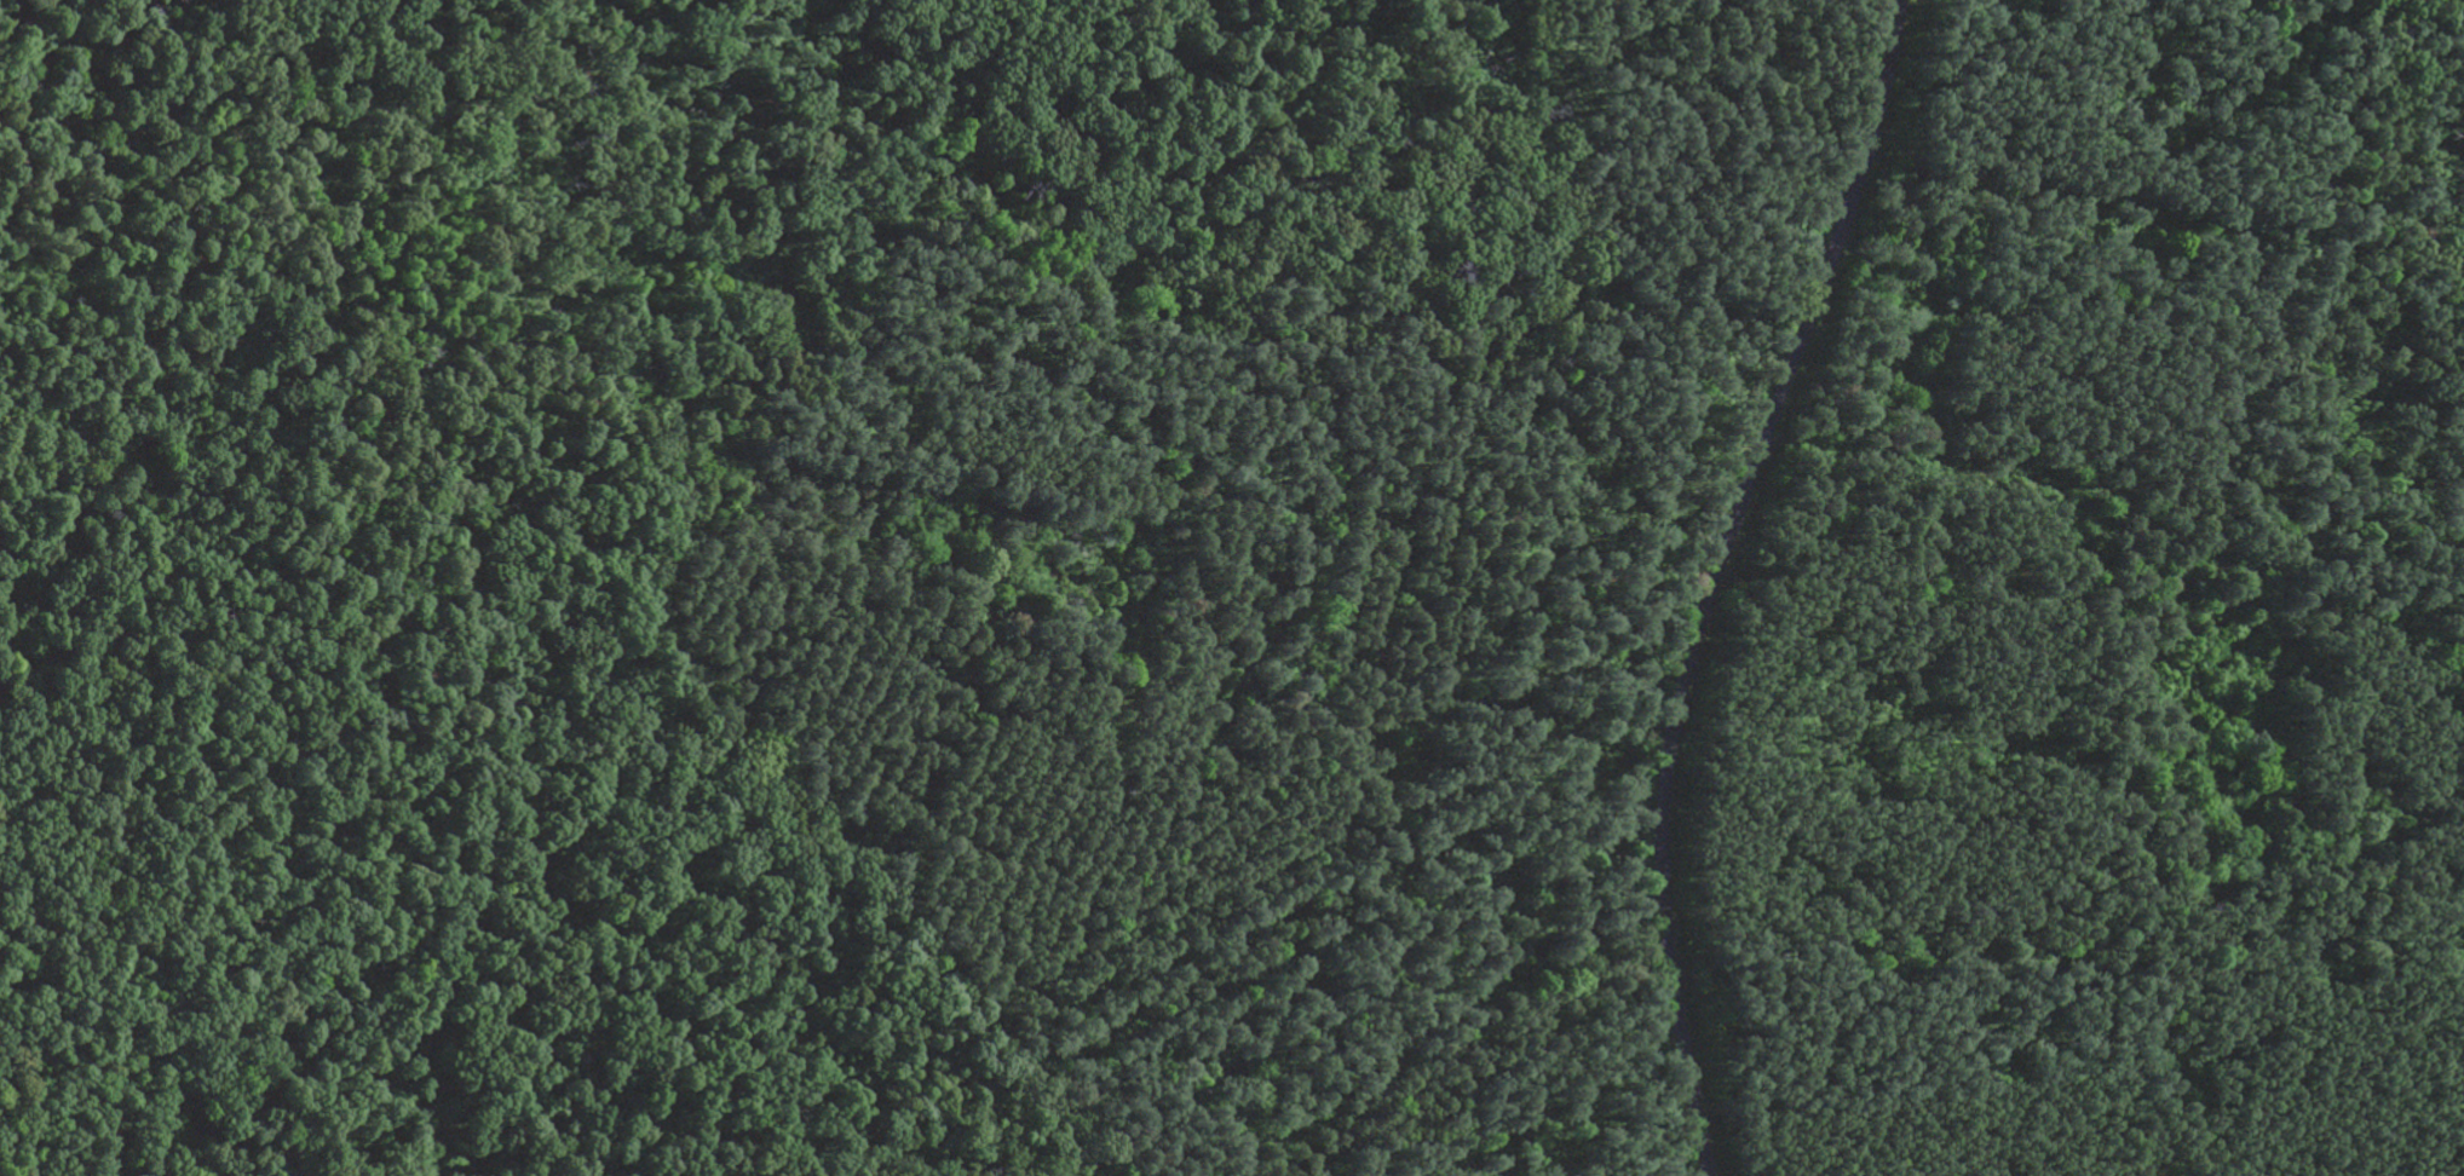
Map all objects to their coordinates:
road: (1716, 578)

